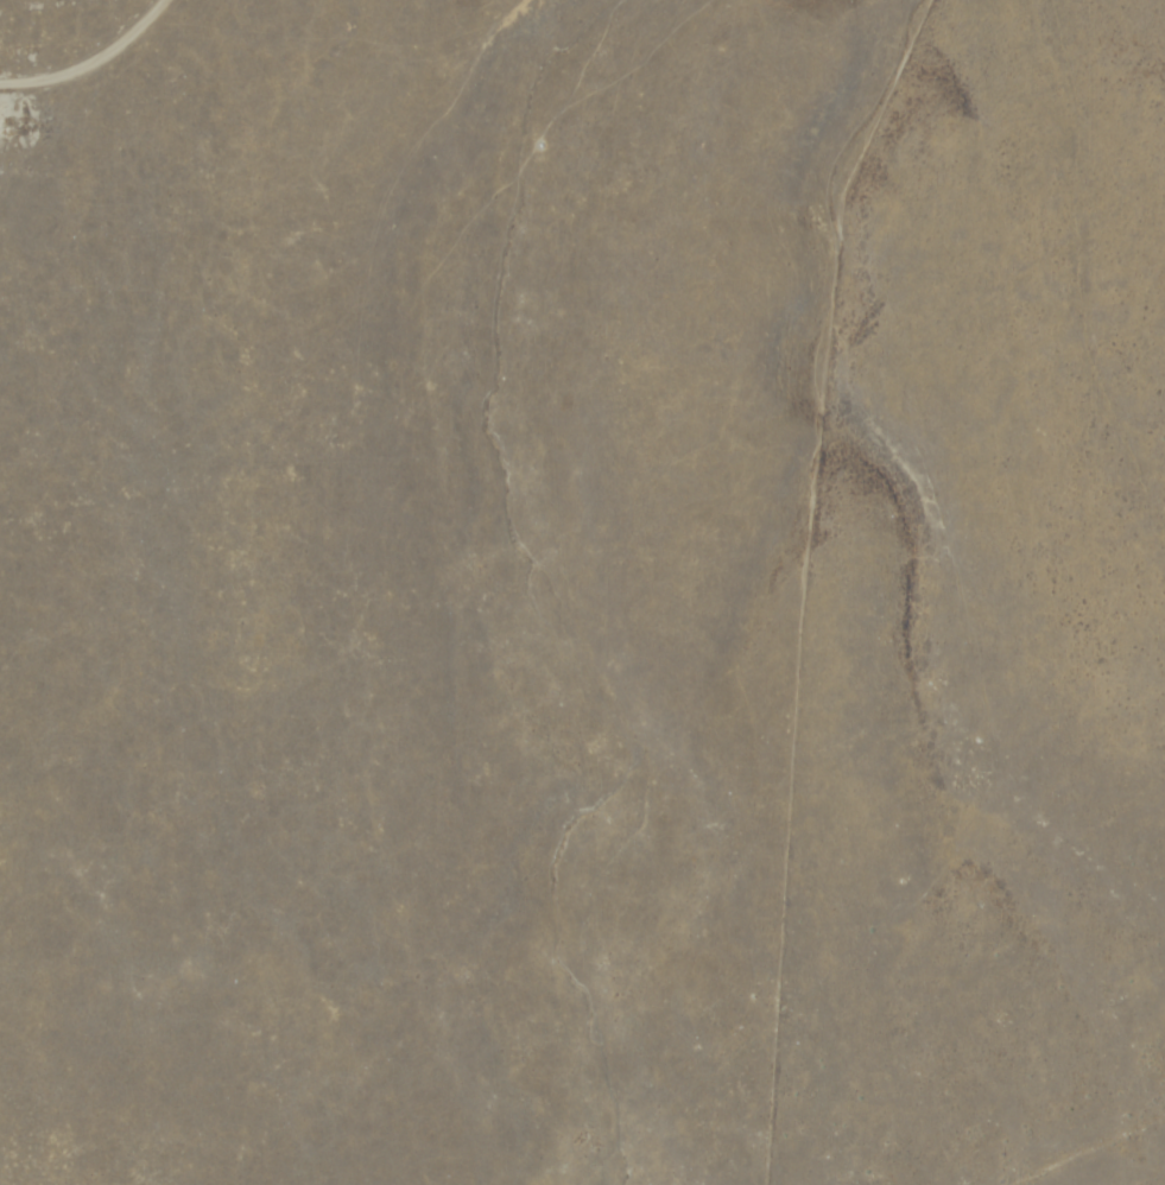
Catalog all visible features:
road: (99, 68)

